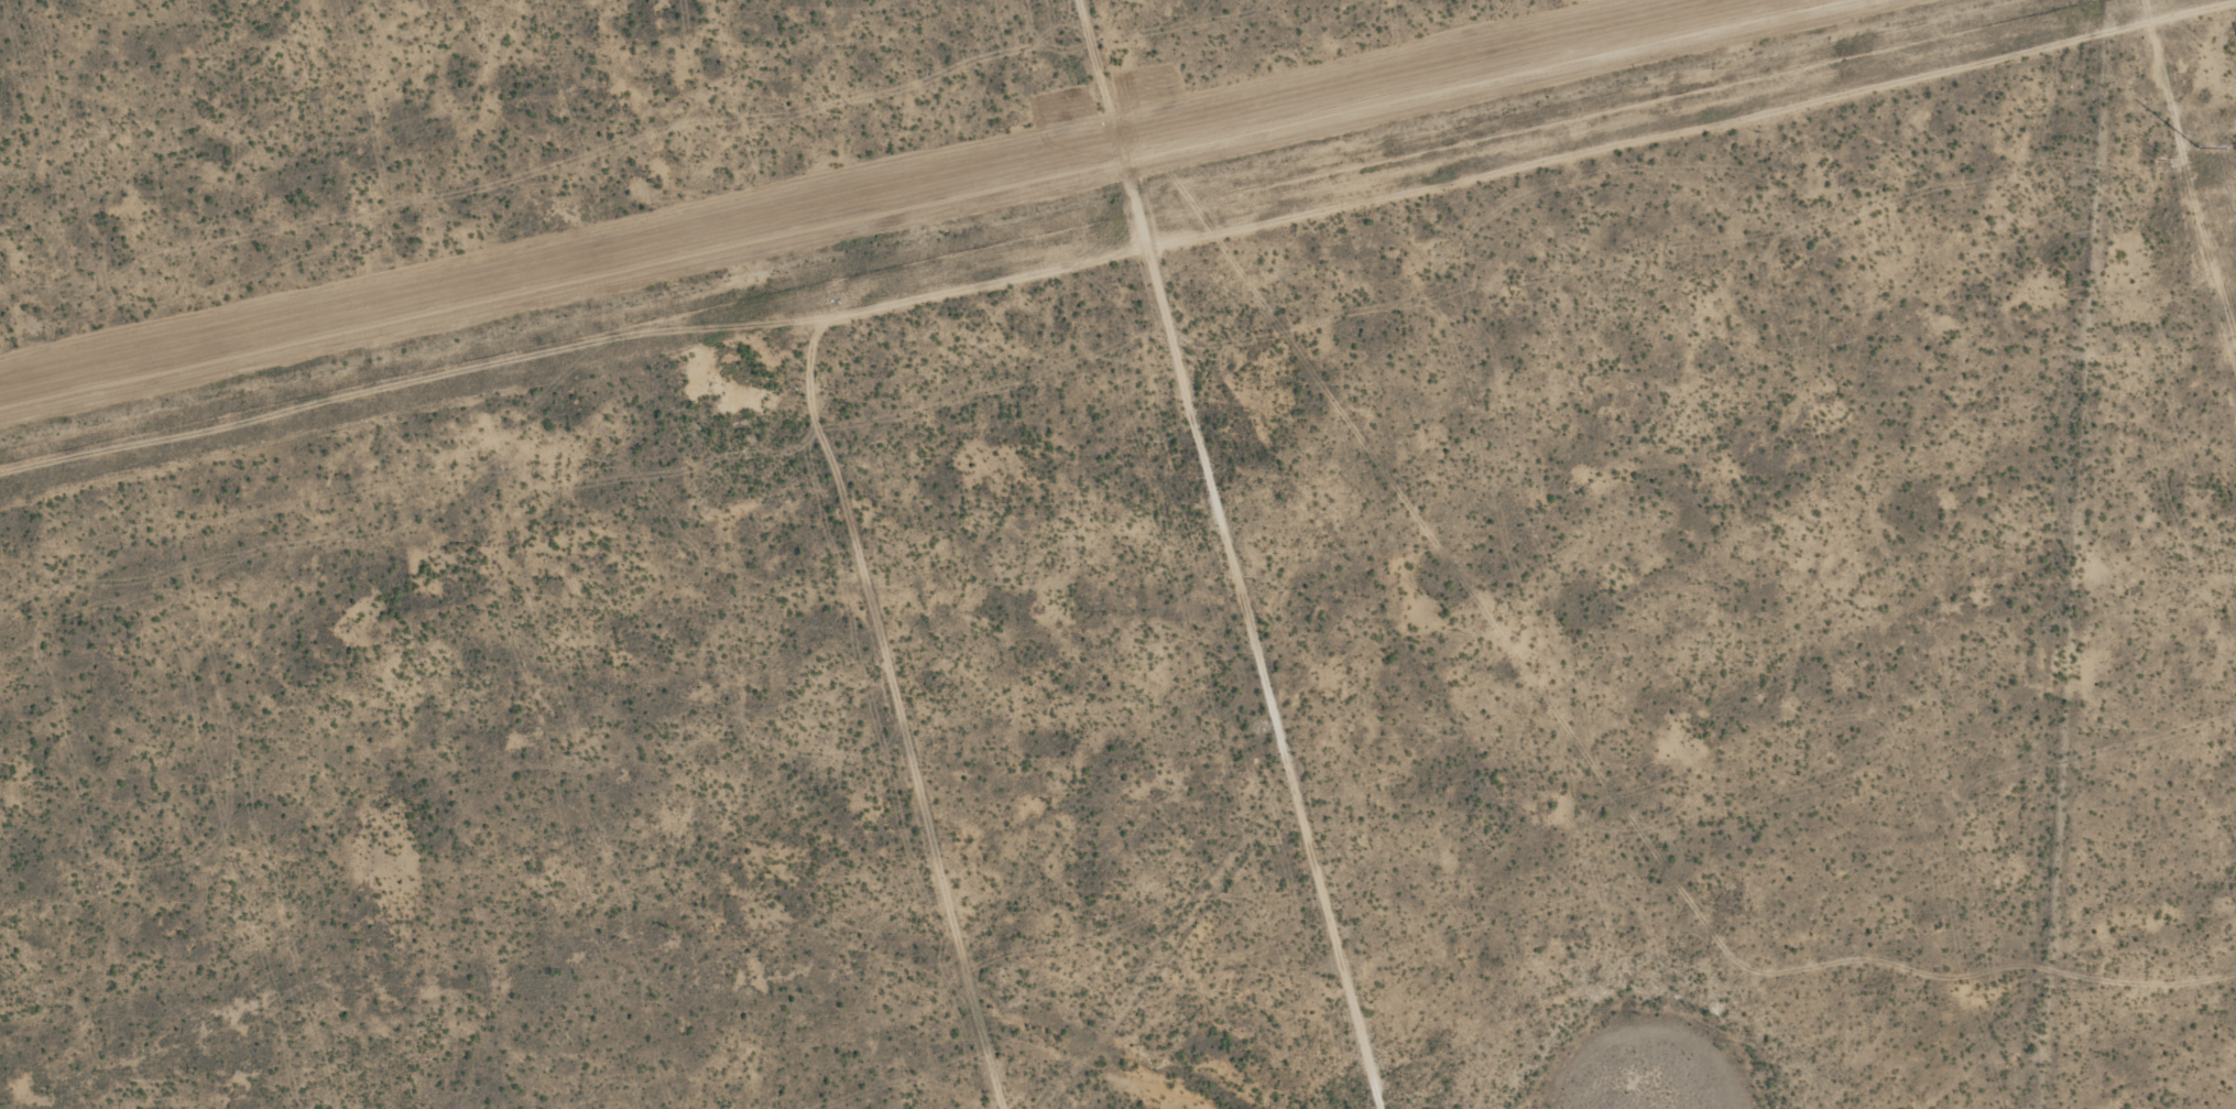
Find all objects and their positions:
power tower: (2197, 146)
power tower: (2157, 159)

